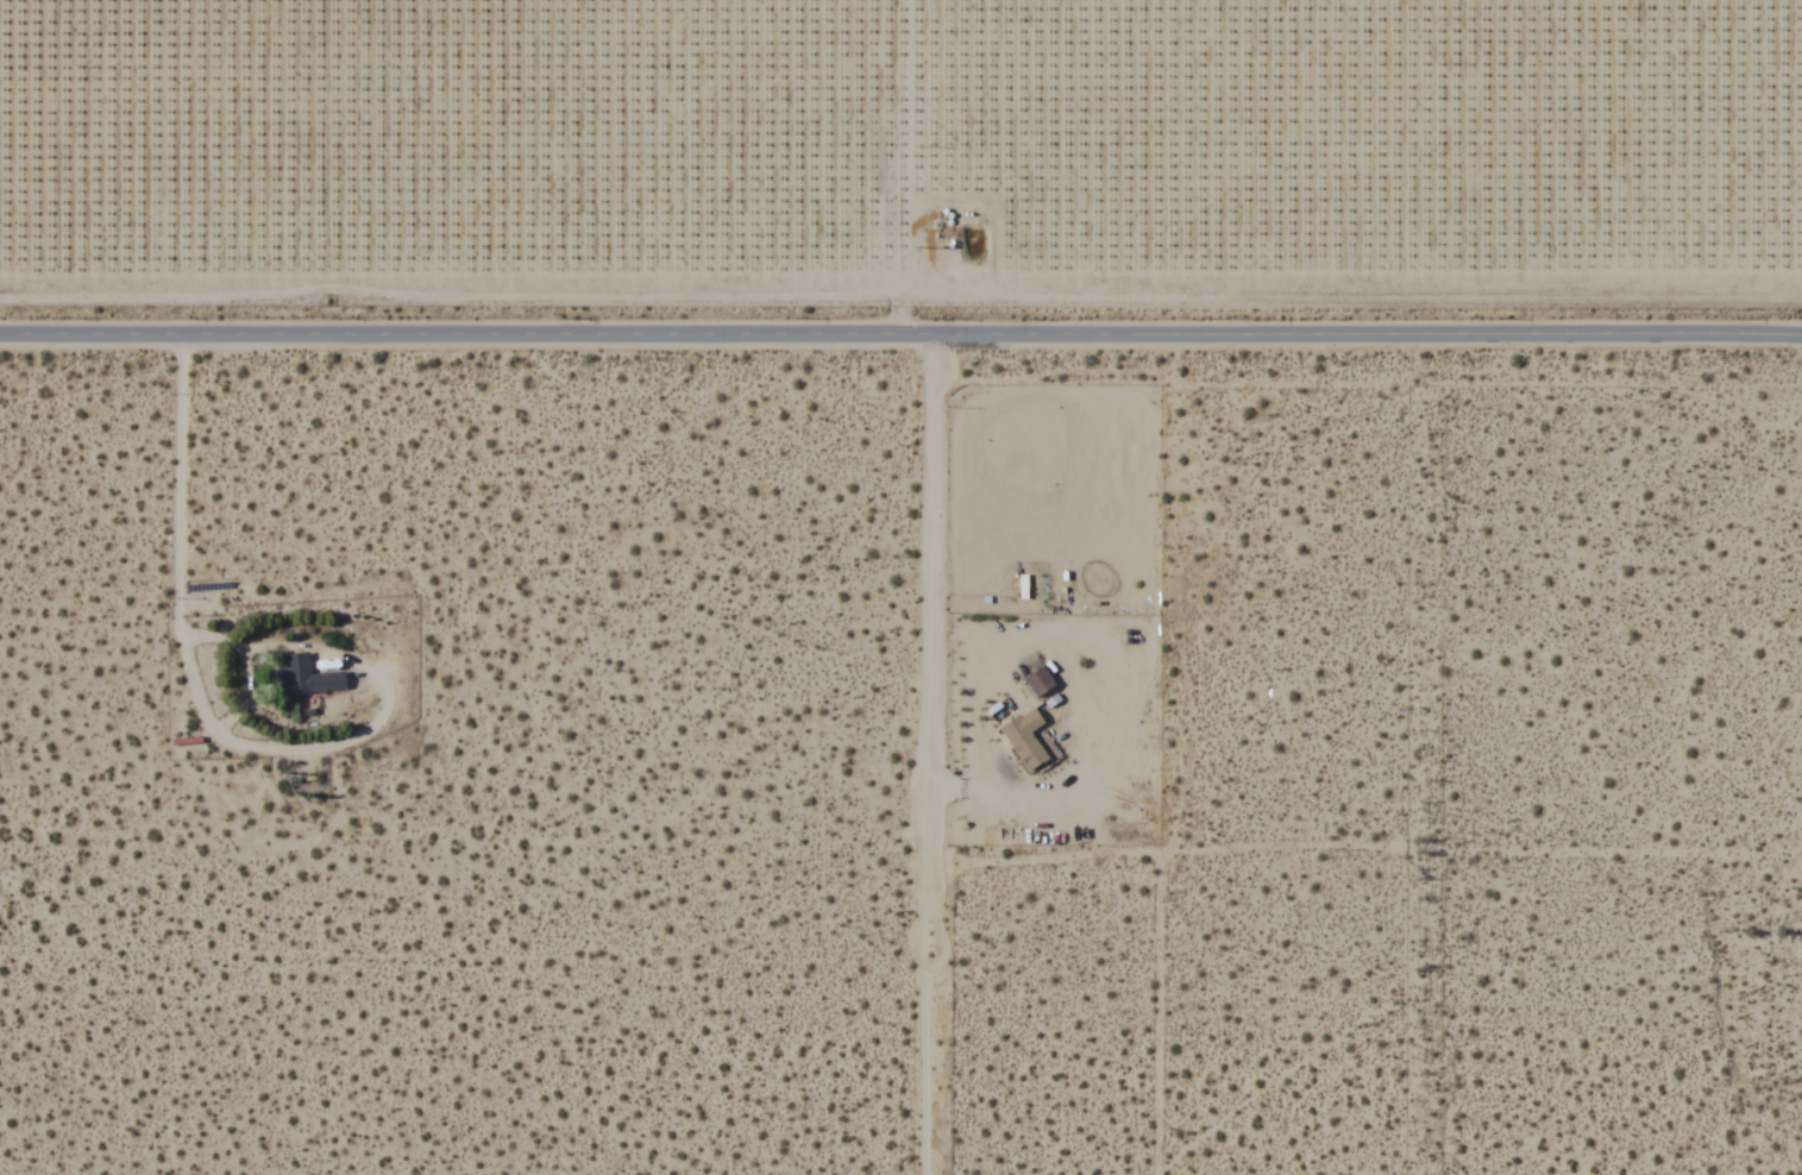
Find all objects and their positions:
road: (464, 339)
road: (1365, 340)
building: (303, 677)
building: (1025, 739)
road: (917, 756)

